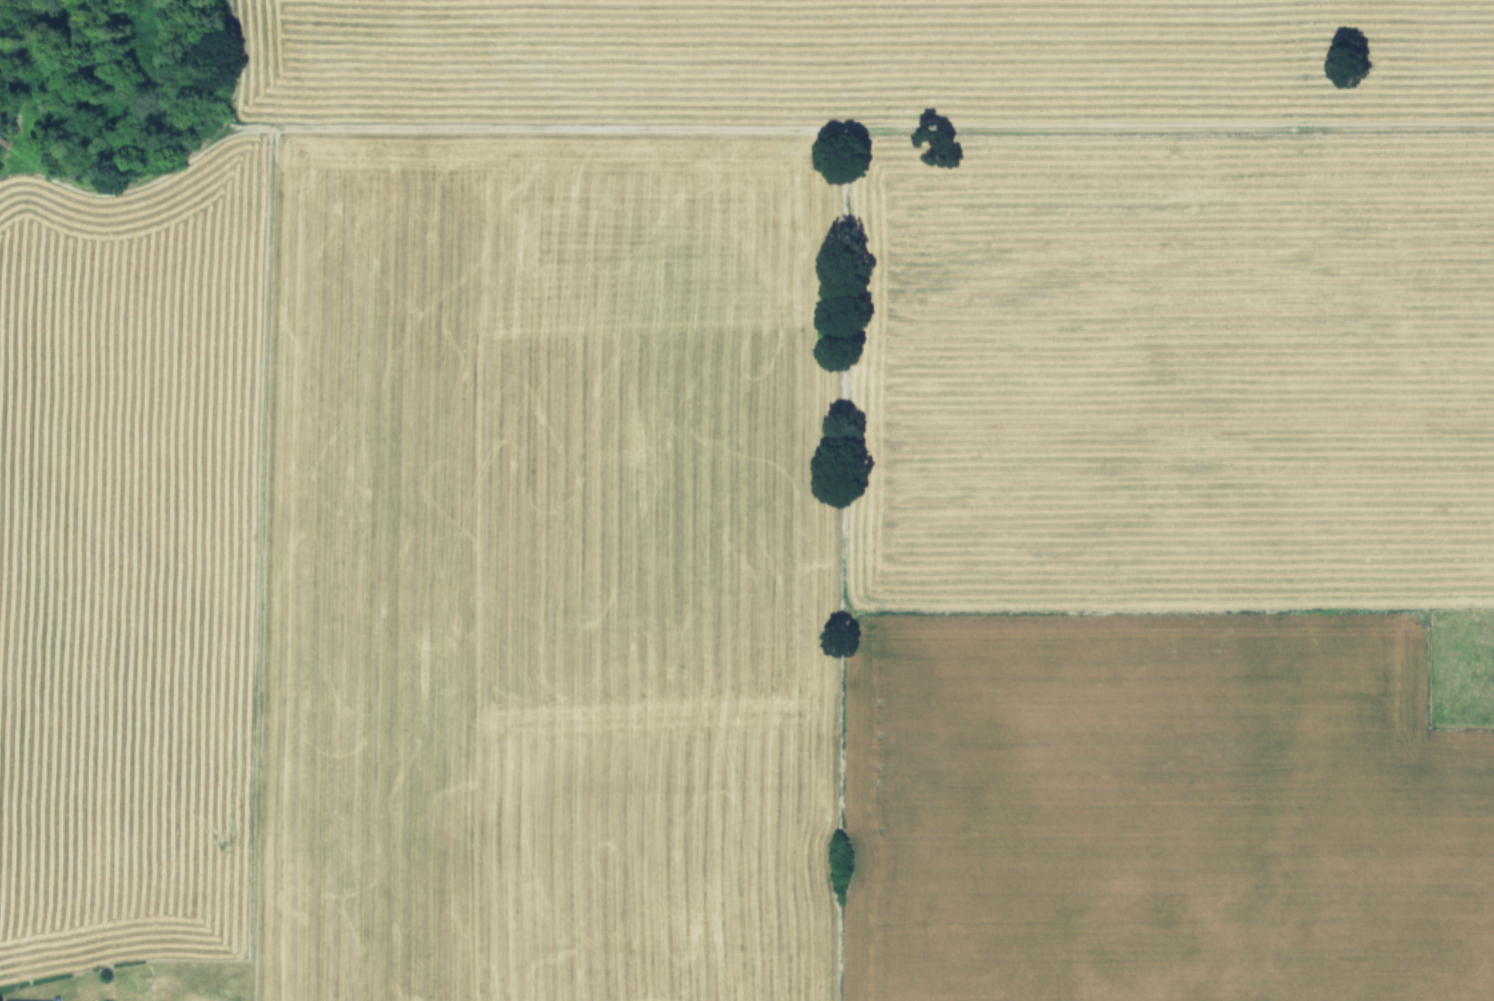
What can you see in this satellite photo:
river: (106, 108)
crop: (765, 513)

